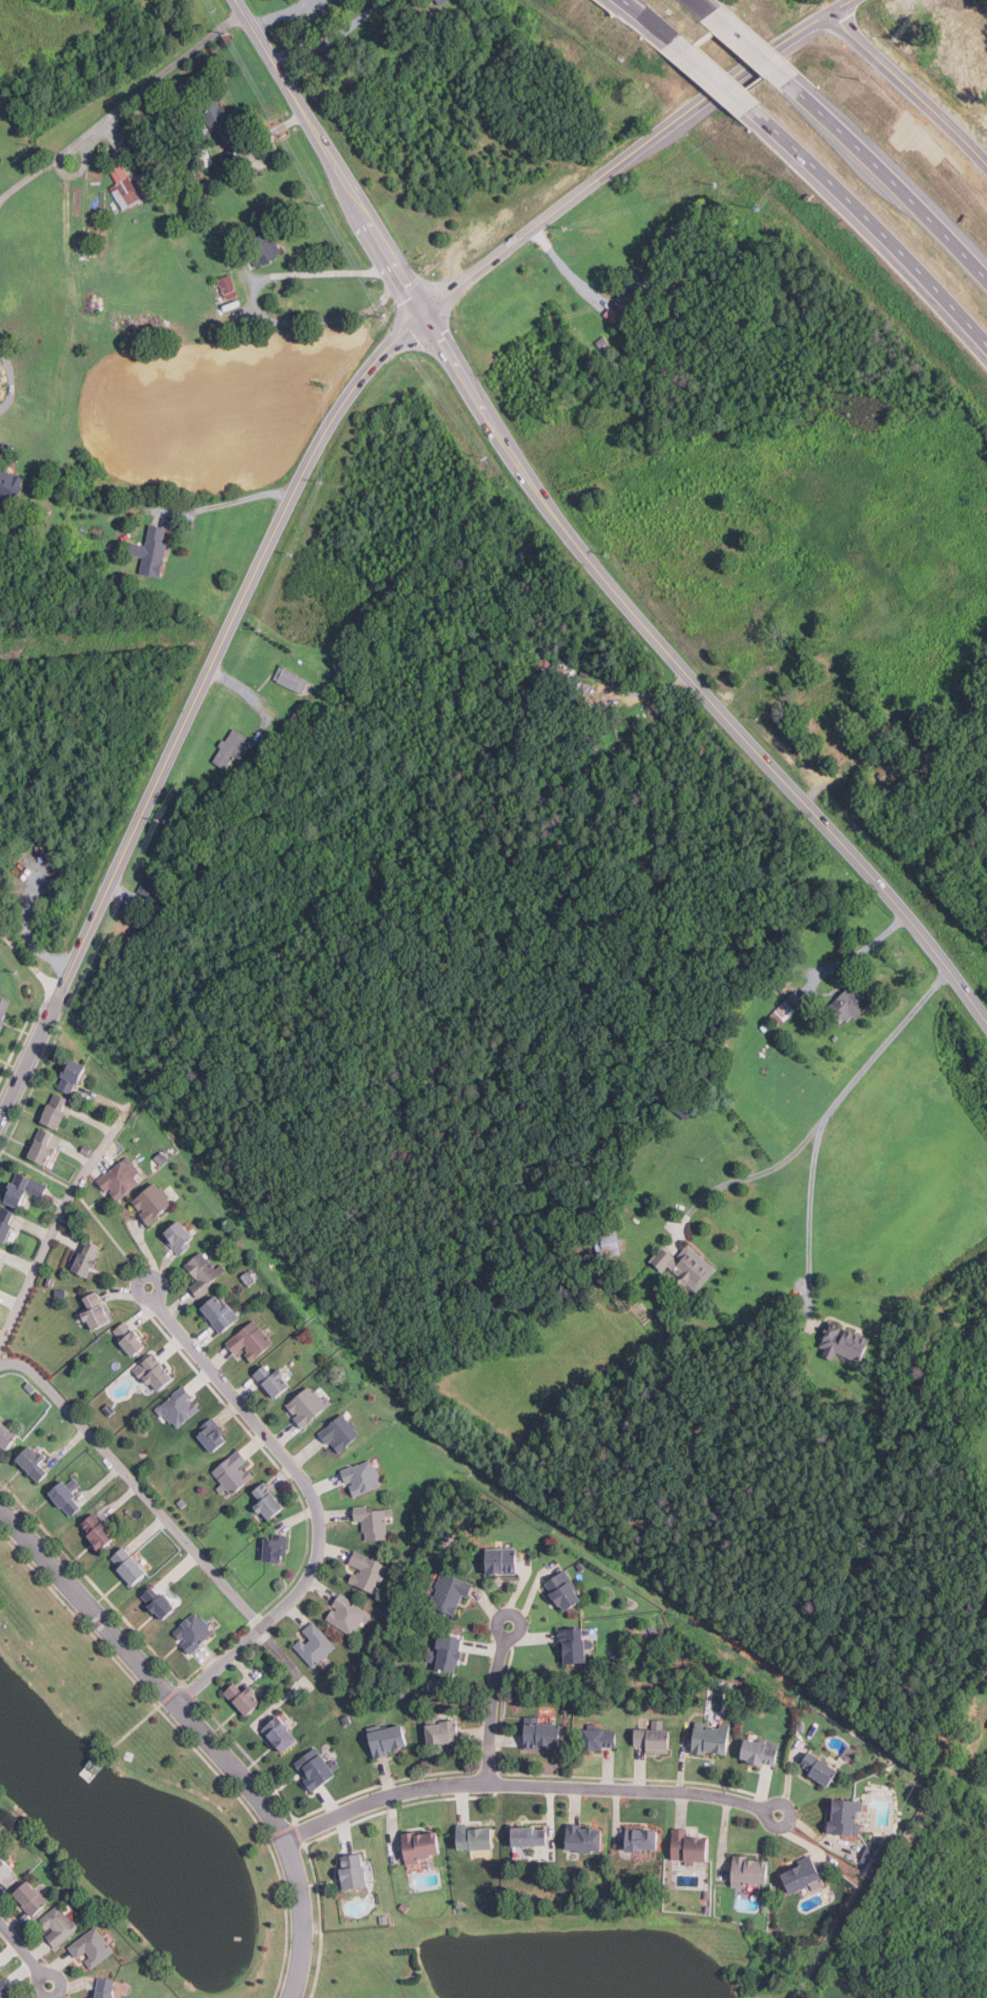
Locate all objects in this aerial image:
building: (439, 1)
road: (283, 12)
road: (706, 13)
road: (653, 26)
road: (331, 40)
road: (748, 48)
road: (712, 75)
road: (906, 88)
road: (119, 101)
road: (295, 101)
building: (215, 119)
road: (630, 150)
building: (203, 157)
building: (228, 157)
road: (882, 172)
building: (122, 187)
road: (2, 198)
road: (866, 217)
building: (261, 249)
road: (390, 256)
road: (562, 264)
building: (638, 286)
building: (226, 287)
traffic signals: (423, 311)
road: (255, 312)
building: (610, 315)
building: (600, 342)
road: (456, 366)
building: (10, 485)
road: (227, 502)
road: (572, 540)
building: (153, 550)
road: (236, 605)
building: (541, 662)
building: (292, 679)
road: (240, 688)
building: (232, 748)
building: (889, 768)
road: (832, 832)
building: (153, 886)
road: (31, 919)
road: (858, 950)
building: (846, 1004)
building: (788, 1006)
building: (4, 1010)
road: (43, 1023)
building: (764, 1026)
building: (834, 1037)
building: (73, 1076)
building: (58, 1110)
road: (821, 1117)
building: (46, 1146)
road: (755, 1174)
building: (121, 1179)
building: (25, 1188)
building: (154, 1202)
building: (7, 1222)
road: (55, 1233)
building: (181, 1236)
building: (611, 1241)
building: (2, 1251)
building: (89, 1257)
building: (687, 1265)
building: (204, 1272)
building: (97, 1311)
building: (221, 1312)
building: (132, 1338)
building: (252, 1341)
building: (843, 1342)
building: (157, 1372)
building: (275, 1380)
building: (308, 1406)
building: (180, 1407)
building: (341, 1433)
building: (8, 1435)
building: (213, 1435)
building: (36, 1463)
building: (235, 1472)
building: (363, 1478)
road: (134, 1484)
road: (310, 1493)
building: (68, 1498)
building: (269, 1503)
building: (374, 1524)
building: (100, 1531)
building: (277, 1549)
building: (503, 1561)
building: (129, 1566)
building: (368, 1571)
building: (566, 1591)
building: (451, 1593)
building: (160, 1602)
building: (347, 1614)
building: (194, 1632)
building: (316, 1644)
building: (575, 1646)
building: (448, 1653)
building: (246, 1698)
road: (494, 1703)
road: (135, 1725)
building: (986, 1727)
road: (201, 1730)
building: (439, 1730)
building: (282, 1733)
building: (545, 1735)
building: (713, 1738)
building: (602, 1739)
building: (656, 1739)
building: (384, 1741)
building: (762, 1751)
building: (98, 1764)
road: (96, 1766)
building: (821, 1768)
building: (317, 1769)
road: (528, 1785)
building: (847, 1817)
building: (476, 1837)
building: (528, 1839)
building: (587, 1839)
building: (644, 1839)
building: (420, 1847)
building: (691, 1847)
building: (872, 1856)
building: (355, 1872)
building: (753, 1872)
building: (7, 1873)
building: (804, 1876)
building: (31, 1898)
building: (59, 1925)
building: (93, 1947)
road: (24, 1956)
building: (0, 1970)
building: (105, 1988)
building: (5, 1989)

